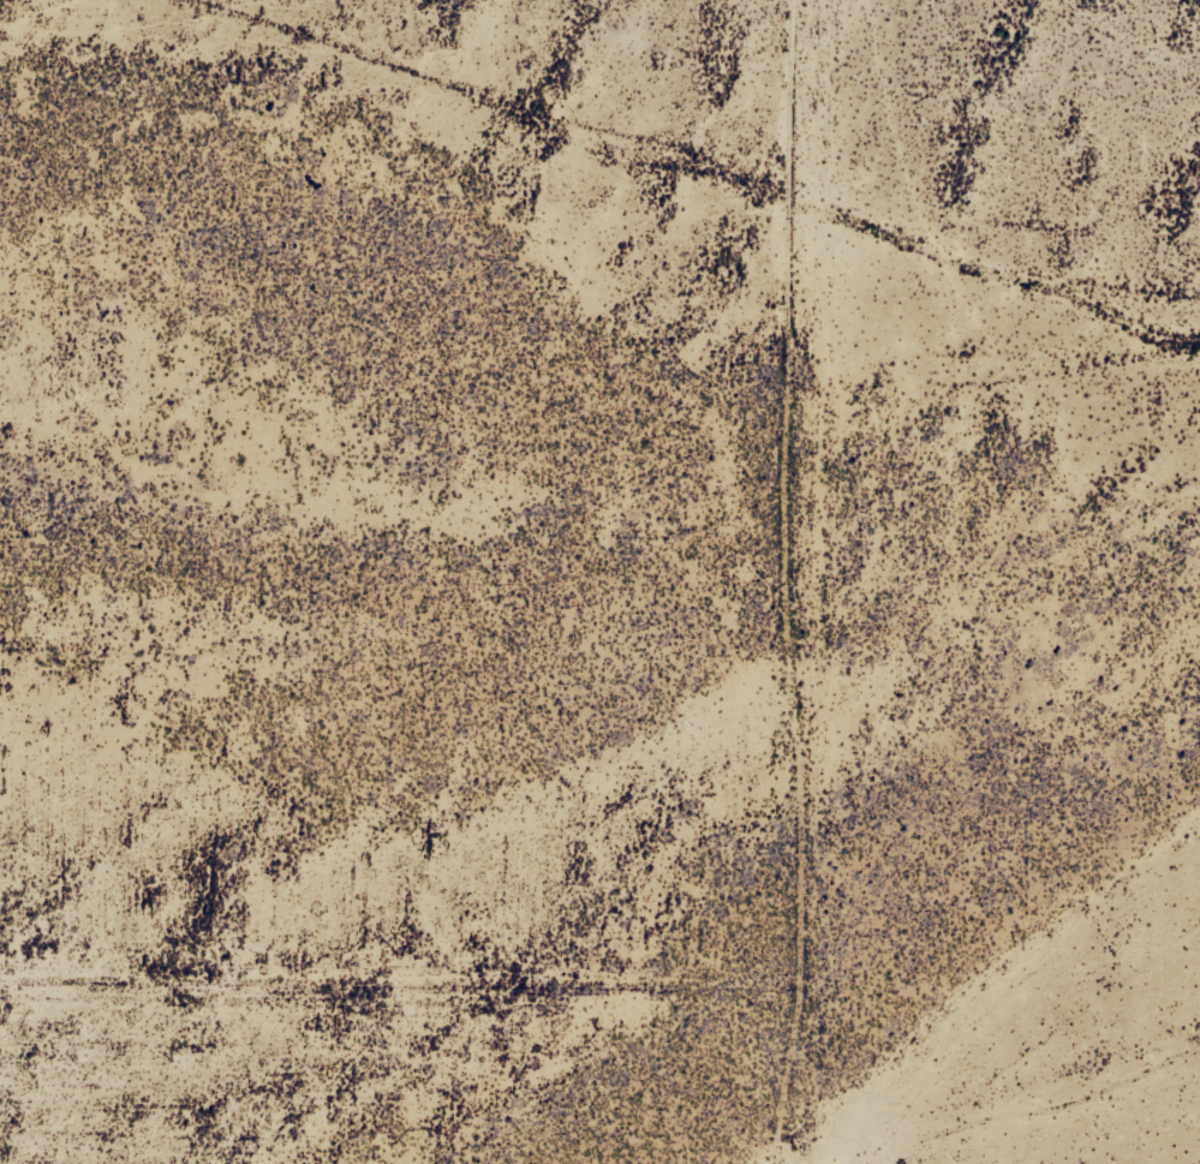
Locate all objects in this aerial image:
road: (963, 317)
road: (723, 581)
road: (353, 1011)

